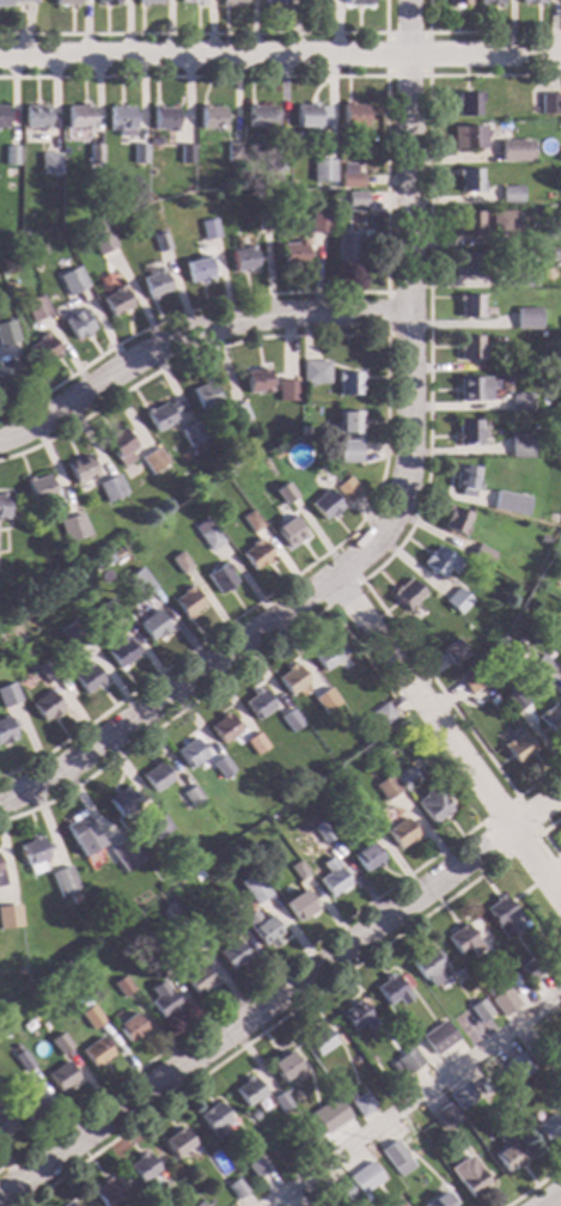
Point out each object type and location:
building: (11, 1)
building: (191, 1)
building: (232, 1)
building: (532, 1)
building: (66, 2)
building: (108, 2)
building: (148, 2)
building: (274, 2)
building: (316, 2)
building: (358, 2)
building: (458, 2)
building: (492, 2)
road: (478, 30)
road: (208, 32)
road: (280, 55)
road: (385, 75)
building: (468, 103)
building: (550, 103)
building: (310, 115)
building: (352, 115)
building: (2, 116)
building: (35, 116)
building: (77, 116)
building: (161, 117)
building: (209, 117)
building: (260, 117)
building: (120, 120)
building: (469, 138)
building: (153, 140)
building: (513, 151)
building: (230, 152)
building: (184, 153)
building: (93, 154)
building: (139, 154)
building: (10, 156)
building: (556, 157)
building: (48, 163)
building: (275, 163)
building: (325, 167)
building: (349, 176)
building: (469, 179)
building: (8, 187)
building: (511, 193)
road: (384, 197)
building: (355, 199)
building: (262, 220)
building: (502, 221)
building: (318, 223)
building: (470, 224)
building: (209, 229)
building: (97, 236)
building: (160, 242)
building: (346, 249)
building: (293, 252)
building: (555, 255)
building: (243, 258)
building: (471, 264)
building: (197, 269)
building: (519, 276)
building: (72, 281)
building: (154, 284)
building: (117, 299)
road: (407, 301)
building: (470, 306)
building: (36, 307)
road: (385, 312)
building: (526, 317)
building: (78, 323)
building: (7, 329)
road: (190, 334)
building: (43, 348)
building: (470, 348)
building: (557, 359)
building: (5, 367)
building: (313, 371)
building: (256, 380)
building: (348, 382)
building: (474, 389)
building: (286, 390)
building: (203, 395)
building: (520, 403)
building: (239, 413)
building: (160, 415)
building: (348, 422)
building: (303, 431)
building: (468, 432)
building: (191, 433)
road: (427, 433)
road: (384, 443)
building: (118, 445)
building: (520, 445)
building: (348, 451)
building: (275, 452)
building: (153, 459)
building: (79, 468)
building: (467, 480)
building: (38, 488)
building: (110, 488)
building: (347, 489)
building: (283, 493)
building: (511, 502)
building: (325, 505)
building: (2, 507)
building: (554, 518)
building: (250, 520)
building: (456, 520)
building: (72, 528)
building: (289, 532)
building: (207, 535)
building: (543, 541)
building: (255, 555)
building: (482, 556)
building: (440, 561)
building: (179, 562)
building: (219, 578)
road: (359, 579)
building: (145, 590)
building: (405, 595)
building: (53, 599)
building: (458, 601)
building: (185, 602)
building: (106, 613)
building: (152, 625)
building: (72, 634)
building: (560, 640)
building: (121, 651)
building: (327, 652)
building: (459, 652)
building: (541, 666)
building: (44, 671)
building: (86, 677)
building: (291, 678)
building: (472, 681)
road: (215, 684)
building: (323, 689)
road: (167, 692)
building: (7, 695)
road: (401, 700)
building: (516, 700)
building: (256, 703)
building: (333, 703)
building: (45, 706)
building: (382, 714)
building: (551, 718)
building: (289, 720)
building: (222, 727)
building: (6, 729)
road: (447, 738)
building: (255, 743)
building: (518, 748)
building: (189, 751)
building: (220, 767)
building: (156, 776)
building: (404, 778)
building: (391, 790)
building: (191, 796)
road: (516, 797)
building: (123, 800)
building: (431, 804)
road: (535, 809)
building: (356, 815)
building: (157, 827)
building: (315, 829)
building: (400, 833)
building: (81, 834)
building: (244, 836)
road: (543, 836)
building: (123, 853)
building: (32, 854)
building: (367, 857)
building: (297, 870)
building: (195, 875)
road: (554, 875)
building: (331, 877)
building: (1, 878)
building: (63, 881)
building: (254, 884)
building: (74, 897)
building: (298, 906)
building: (171, 909)
building: (500, 915)
building: (10, 916)
building: (230, 922)
building: (266, 931)
building: (188, 938)
building: (462, 940)
building: (231, 955)
building: (154, 961)
building: (428, 967)
building: (528, 970)
building: (197, 979)
building: (121, 986)
building: (390, 989)
road: (239, 993)
building: (161, 999)
building: (504, 1001)
building: (478, 1011)
road: (255, 1012)
building: (354, 1016)
building: (91, 1017)
building: (129, 1028)
road: (262, 1031)
building: (437, 1037)
building: (318, 1041)
building: (59, 1043)
building: (14, 1047)
building: (533, 1050)
building: (96, 1052)
building: (22, 1060)
building: (407, 1061)
building: (283, 1065)
building: (392, 1066)
building: (516, 1066)
building: (378, 1068)
building: (492, 1076)
building: (61, 1077)
building: (13, 1083)
building: (246, 1091)
building: (459, 1095)
building: (559, 1096)
road: (413, 1100)
building: (28, 1101)
building: (280, 1102)
building: (361, 1104)
building: (334, 1110)
building: (252, 1115)
building: (444, 1115)
building: (213, 1120)
building: (5, 1121)
building: (545, 1128)
building: (177, 1143)
building: (507, 1153)
building: (396, 1158)
building: (141, 1167)
building: (256, 1169)
building: (468, 1177)
building: (359, 1180)
building: (409, 1184)
road: (533, 1186)
building: (236, 1189)
building: (343, 1189)
building: (105, 1193)
building: (437, 1200)
road: (554, 1201)
building: (196, 1204)
building: (72, 1205)

